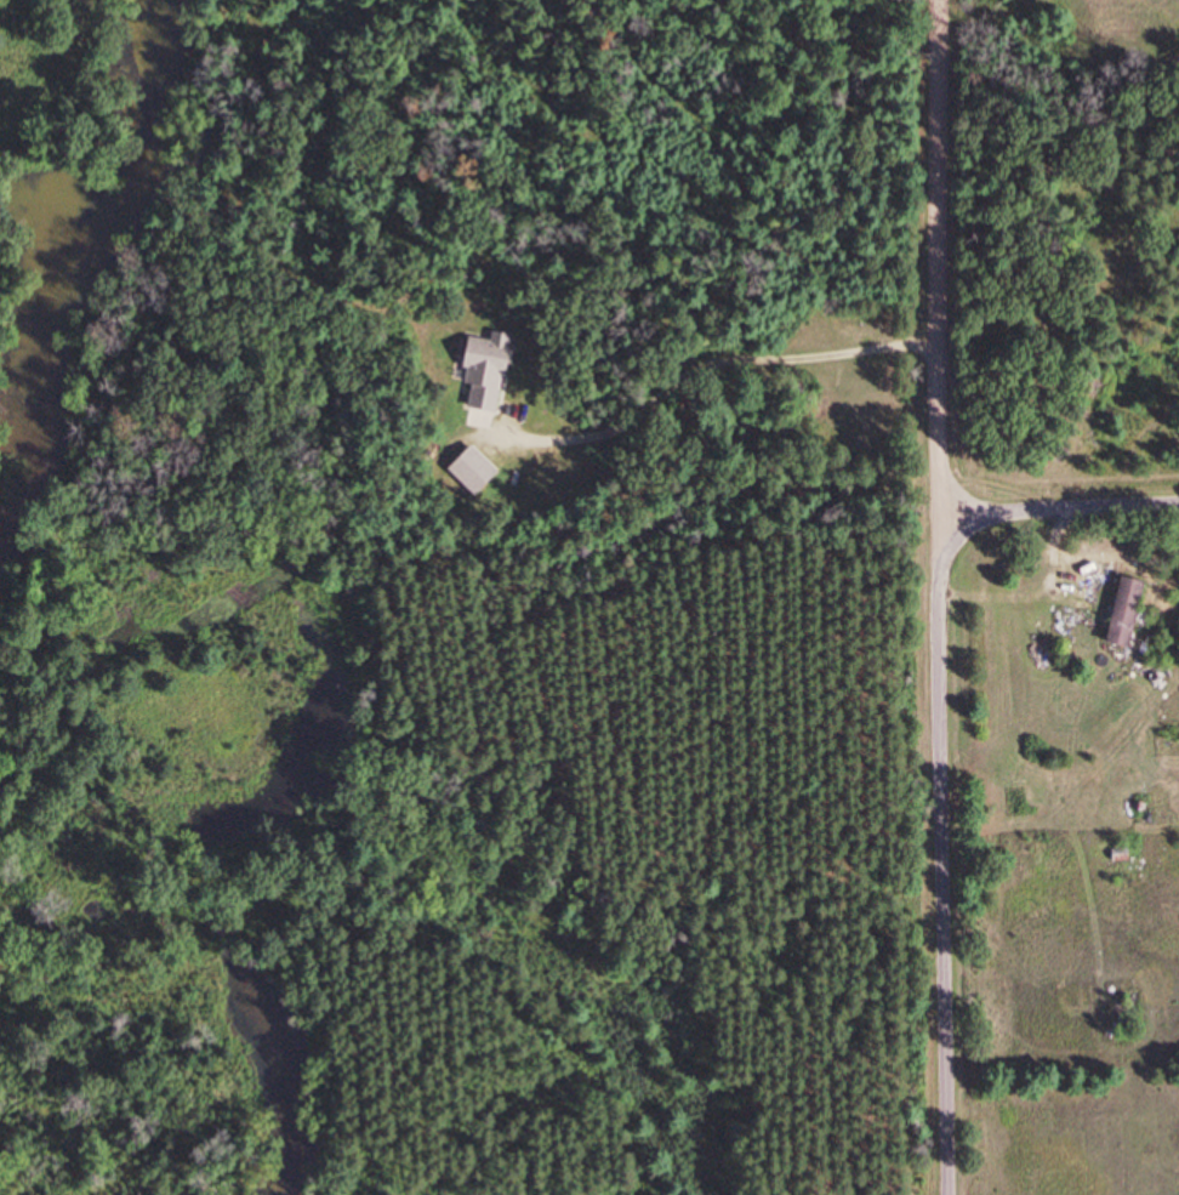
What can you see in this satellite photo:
road: (1059, 507)
road: (941, 597)
building: (1129, 613)
building: (1123, 857)

